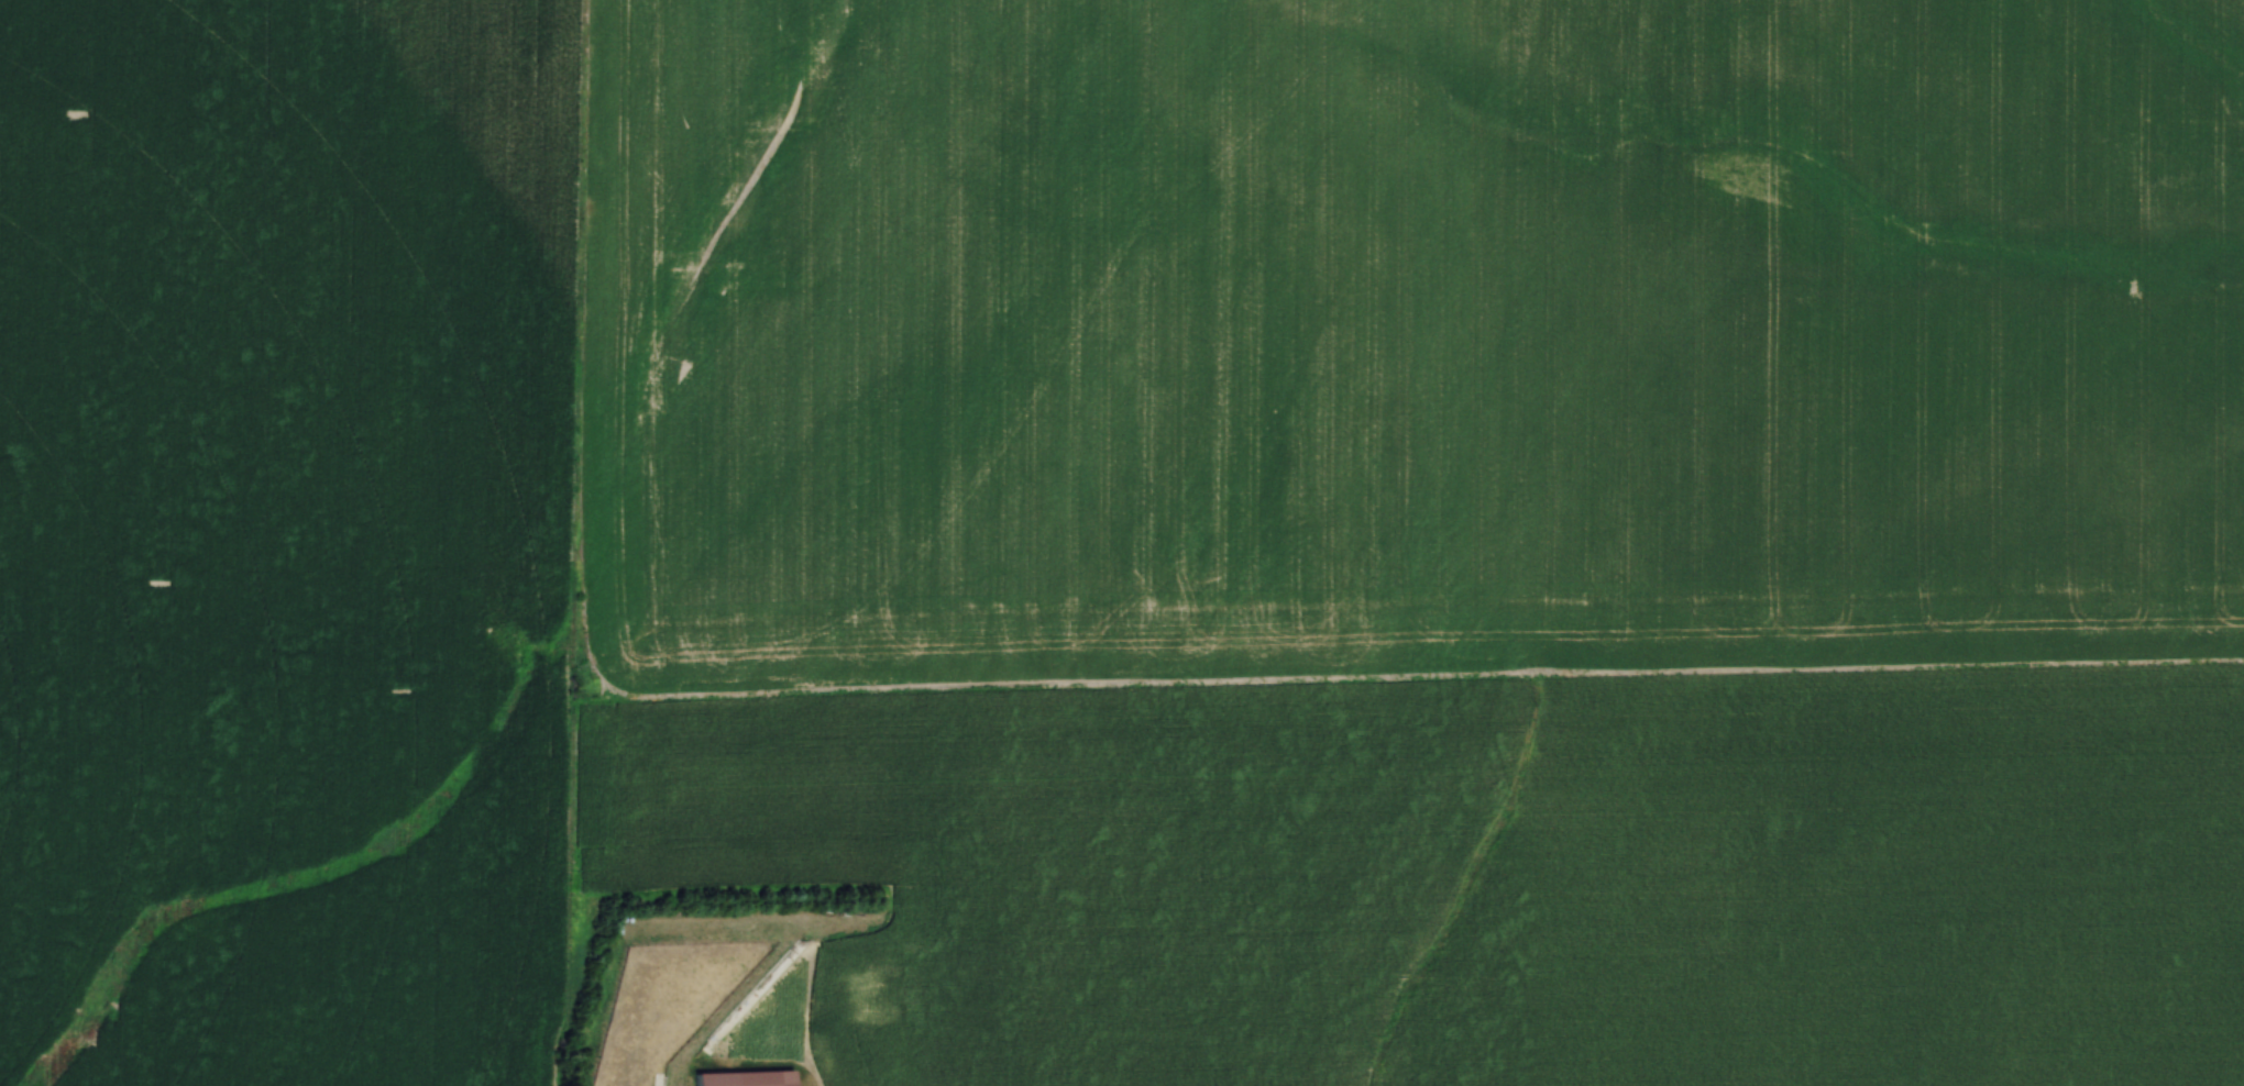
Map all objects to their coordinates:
crop: (1503, 877)
building: (749, 1081)

